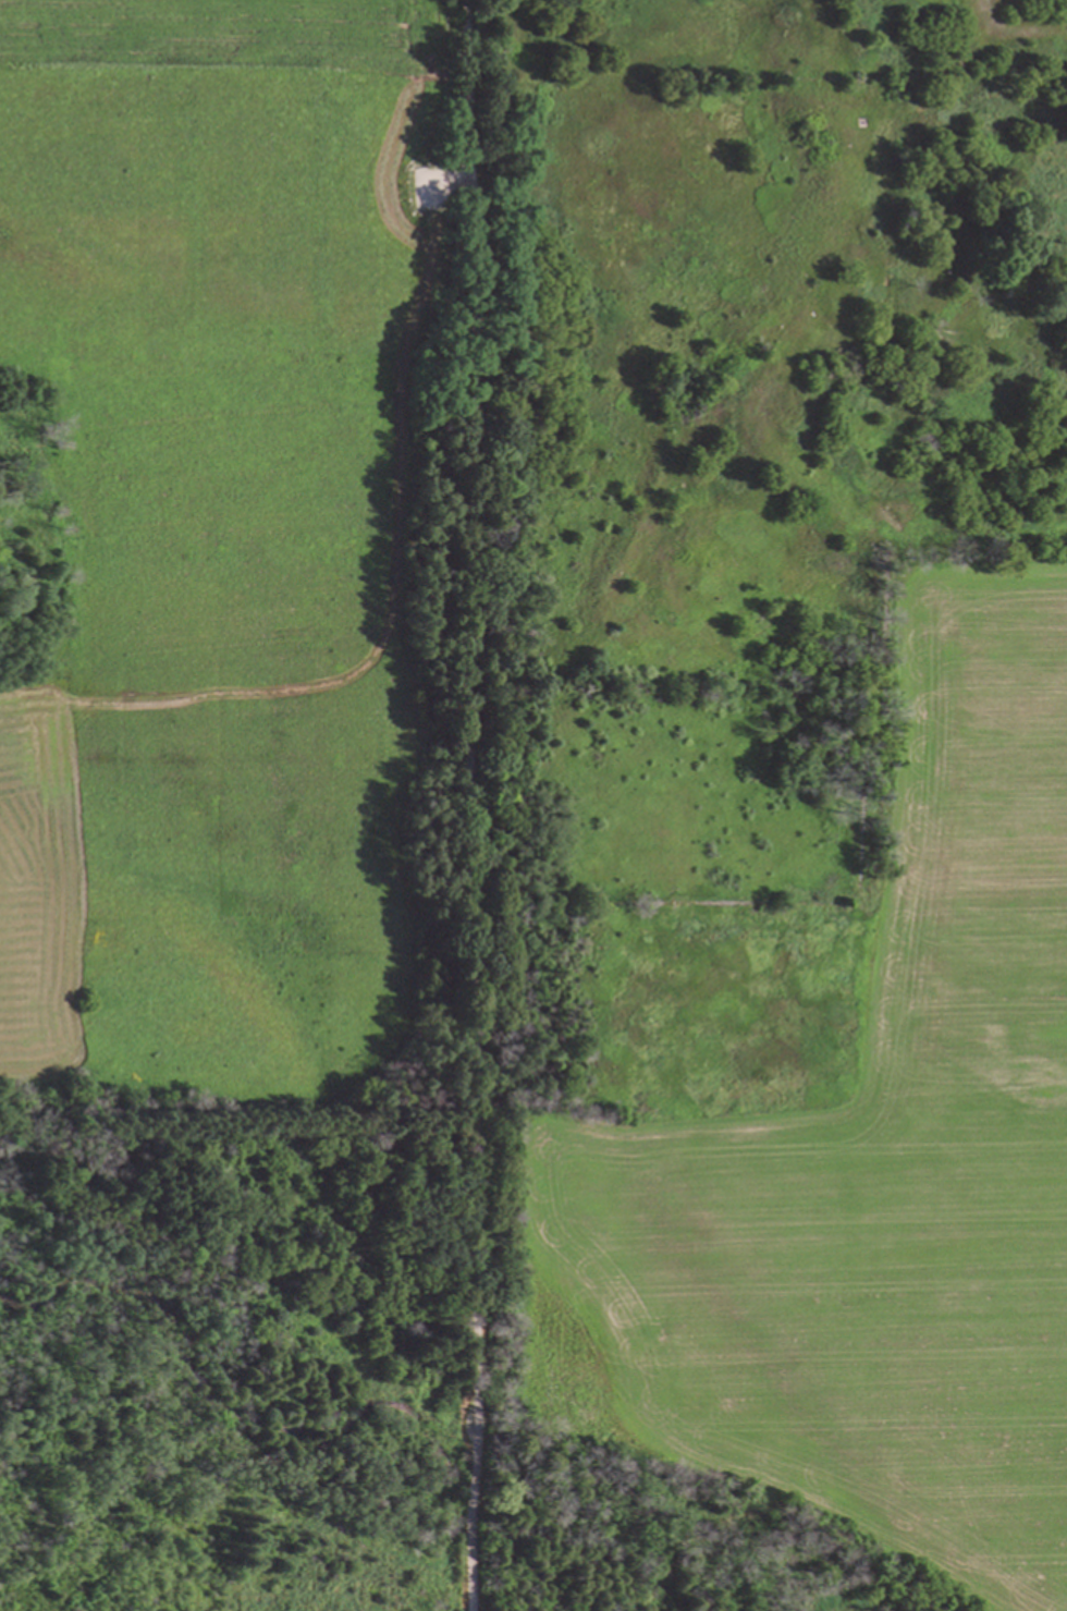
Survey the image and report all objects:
road: (468, 805)

